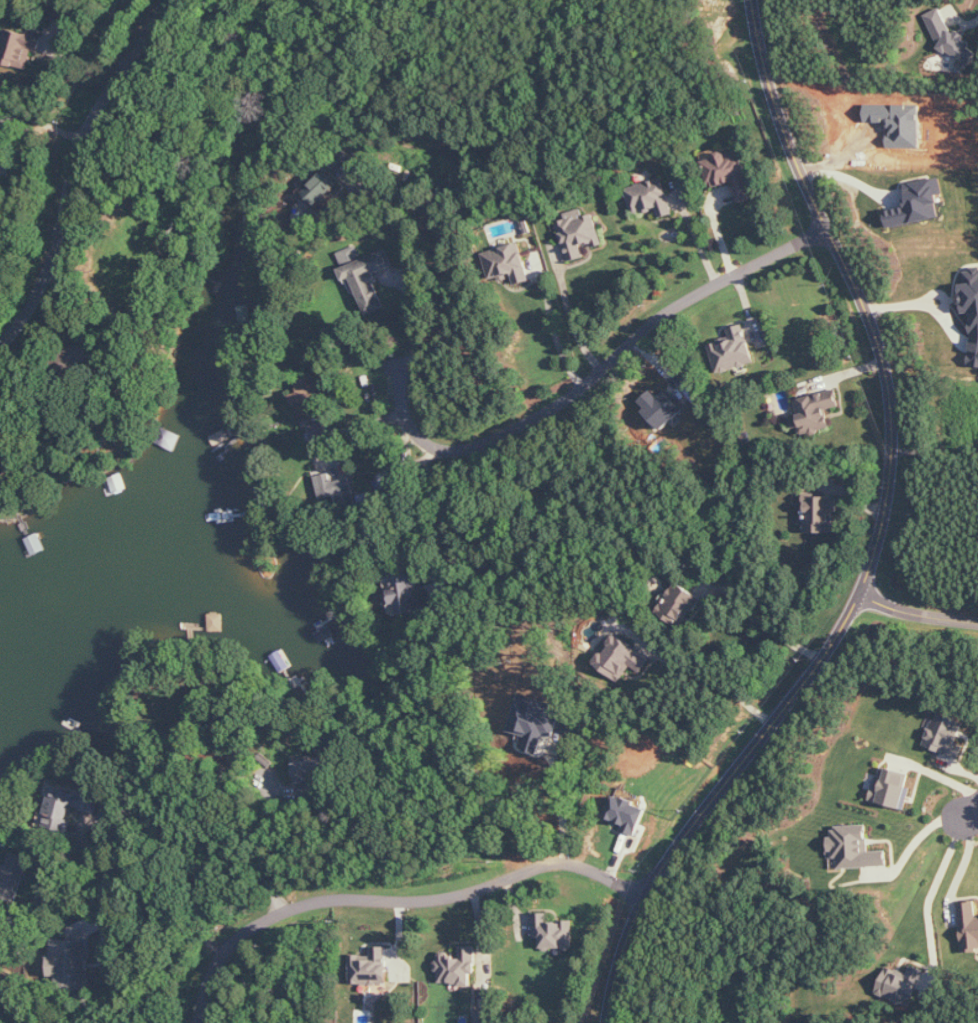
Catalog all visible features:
road: (962, 22)
building: (954, 42)
building: (20, 47)
road: (77, 172)
building: (730, 175)
building: (321, 188)
building: (650, 198)
building: (918, 204)
road: (718, 231)
building: (580, 235)
road: (697, 237)
building: (350, 256)
road: (449, 259)
building: (509, 263)
building: (368, 279)
building: (971, 312)
road: (574, 324)
road: (557, 336)
building: (733, 350)
building: (74, 357)
road: (595, 372)
road: (342, 378)
building: (309, 399)
building: (662, 407)
building: (817, 410)
building: (319, 432)
building: (336, 488)
road: (457, 507)
building: (820, 514)
road: (876, 537)
building: (404, 594)
building: (678, 603)
road: (918, 612)
road: (770, 627)
building: (621, 658)
road: (719, 684)
building: (535, 718)
building: (946, 736)
building: (312, 768)
building: (893, 788)
building: (64, 806)
road: (970, 807)
road: (563, 811)
building: (627, 814)
road: (84, 838)
road: (914, 842)
building: (854, 849)
road: (270, 862)
road: (964, 868)
building: (16, 877)
road: (935, 887)
road: (99, 899)
road: (394, 905)
building: (969, 924)
road: (185, 932)
building: (554, 933)
building: (73, 962)
building: (458, 966)
building: (371, 967)
building: (903, 984)

